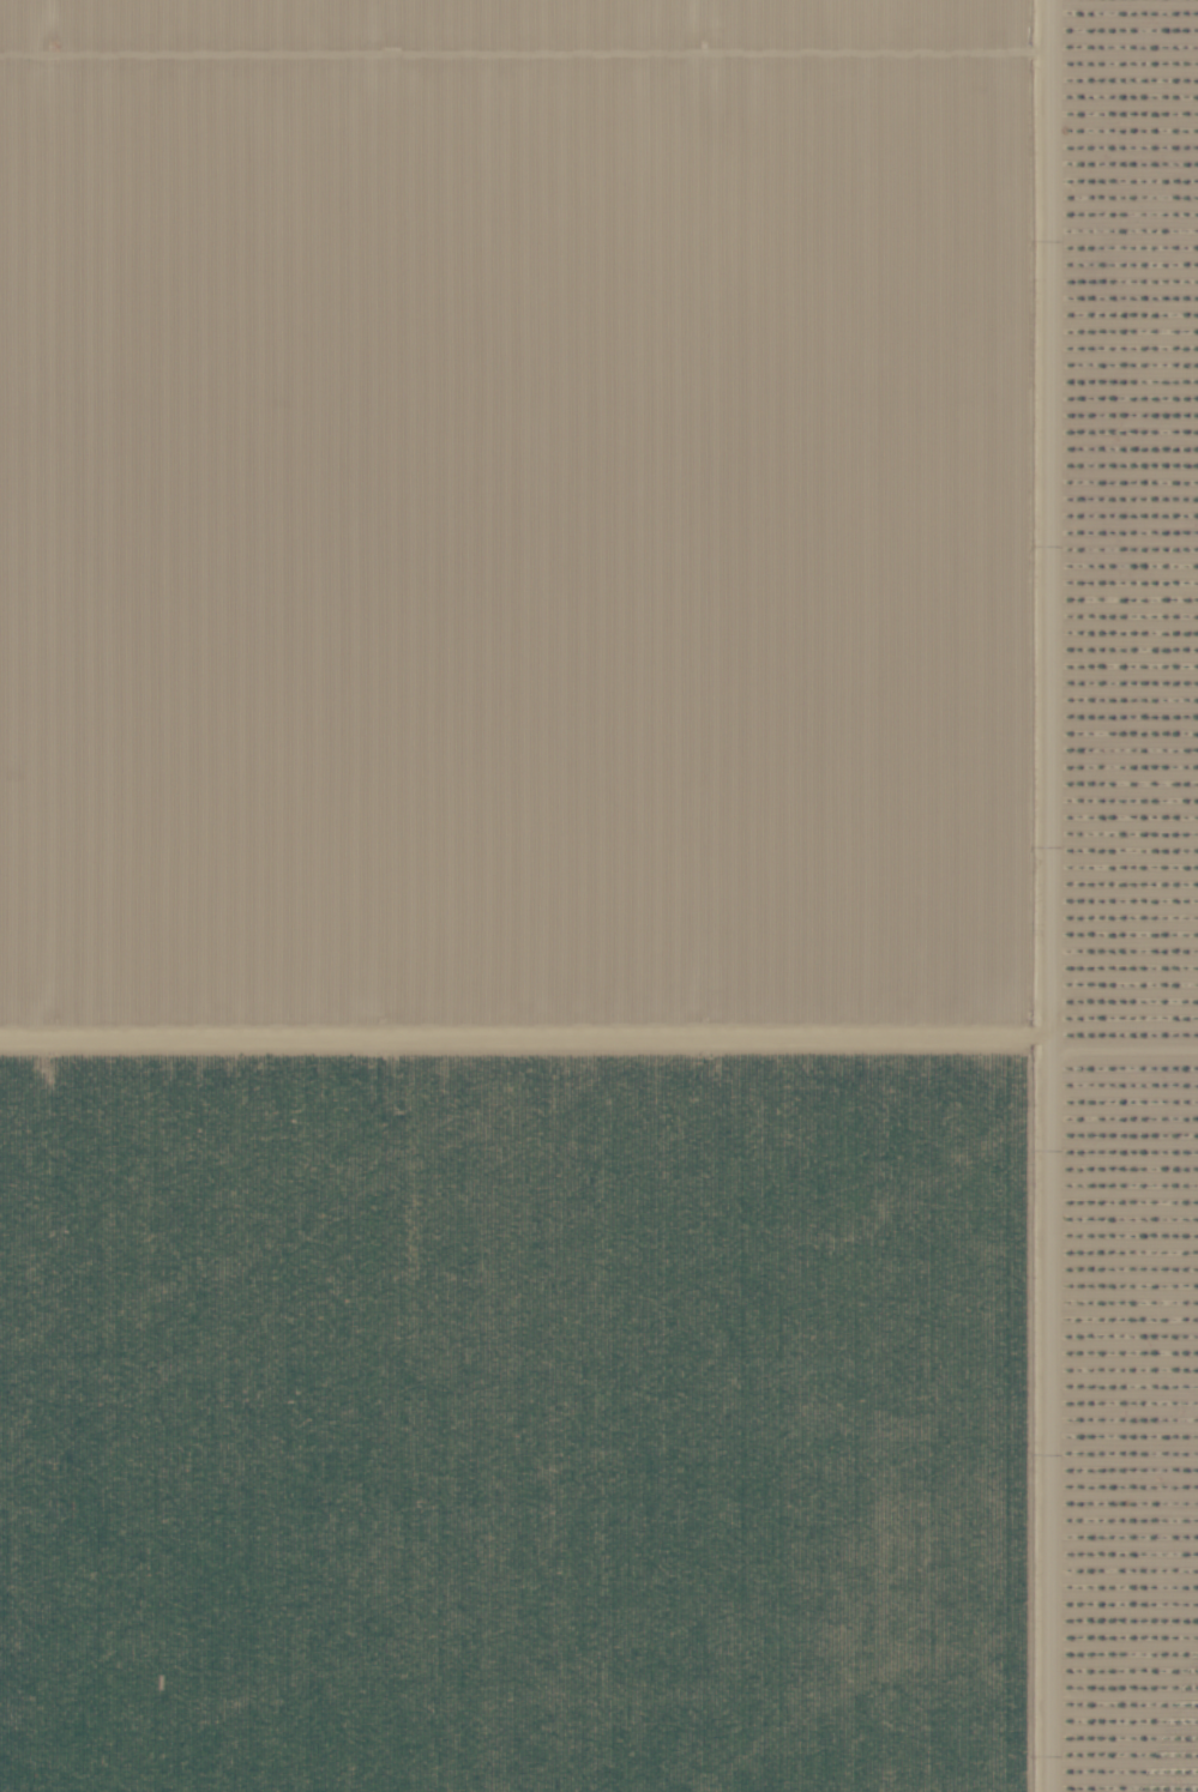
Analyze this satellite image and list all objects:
road: (1025, 895)
crop: (530, 897)

